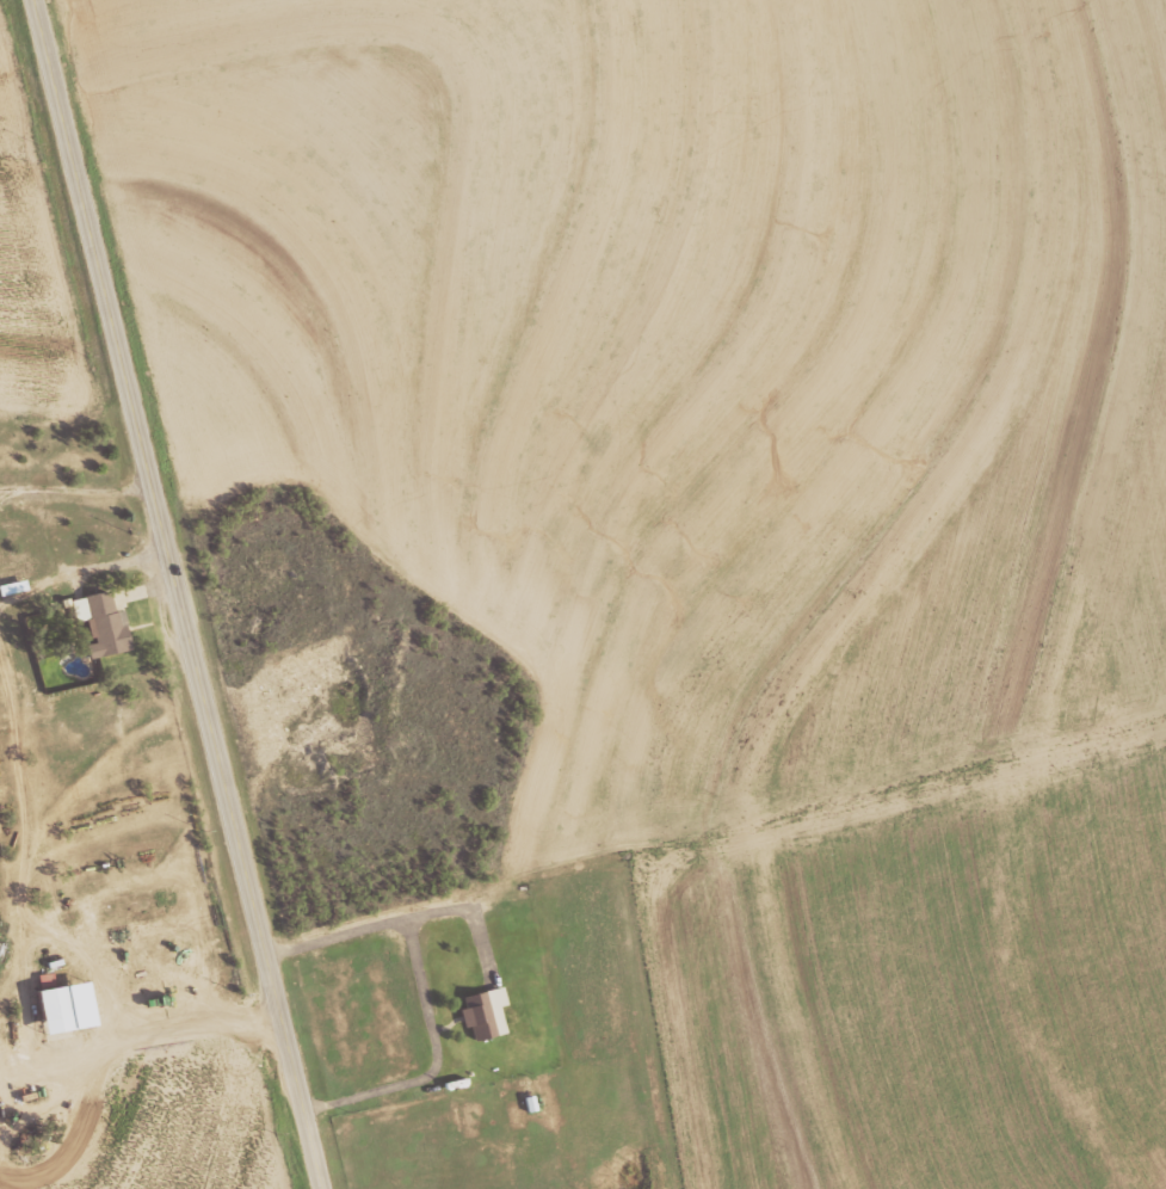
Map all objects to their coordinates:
road: (183, 594)
building: (93, 611)
building: (57, 1006)
building: (483, 1009)

